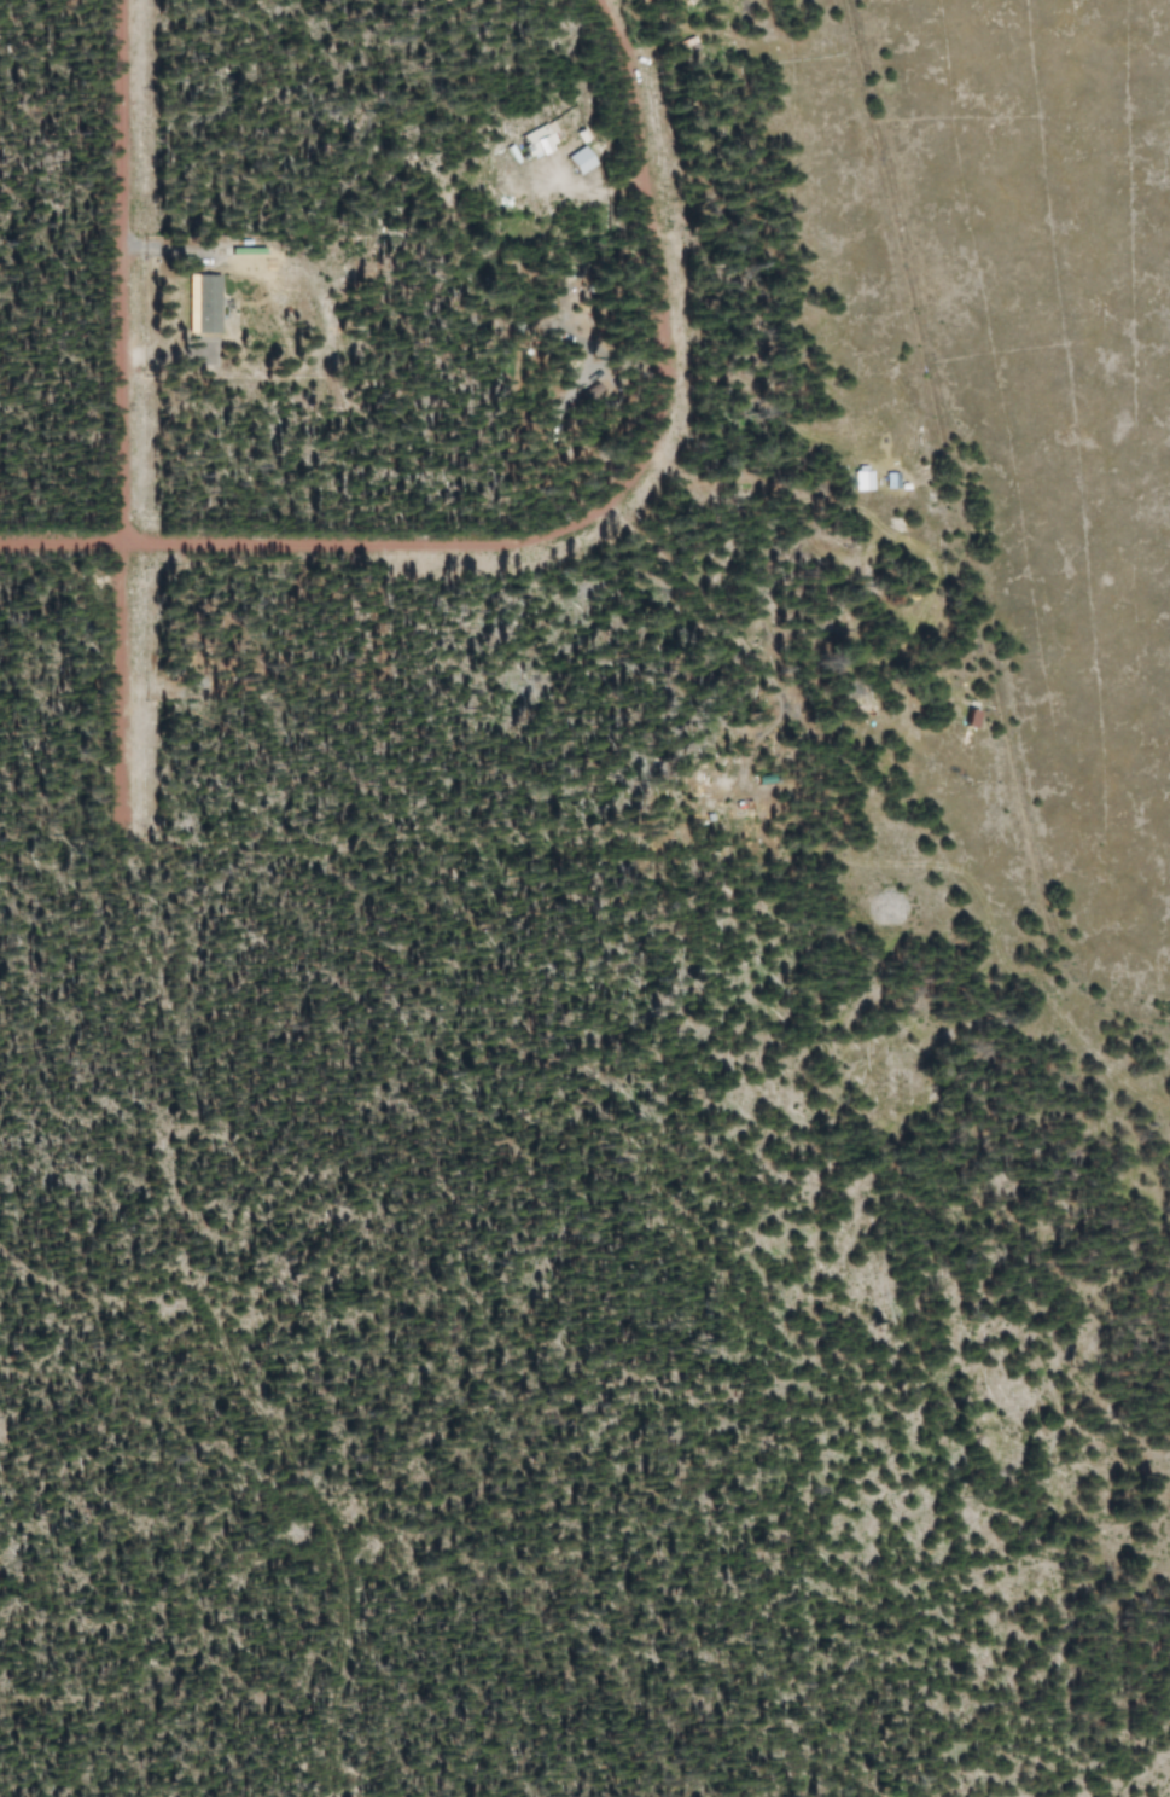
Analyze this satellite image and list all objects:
building: (531, 139)
building: (574, 159)
building: (233, 249)
building: (199, 303)
road: (117, 415)
building: (856, 479)
road: (613, 490)
road: (59, 542)

